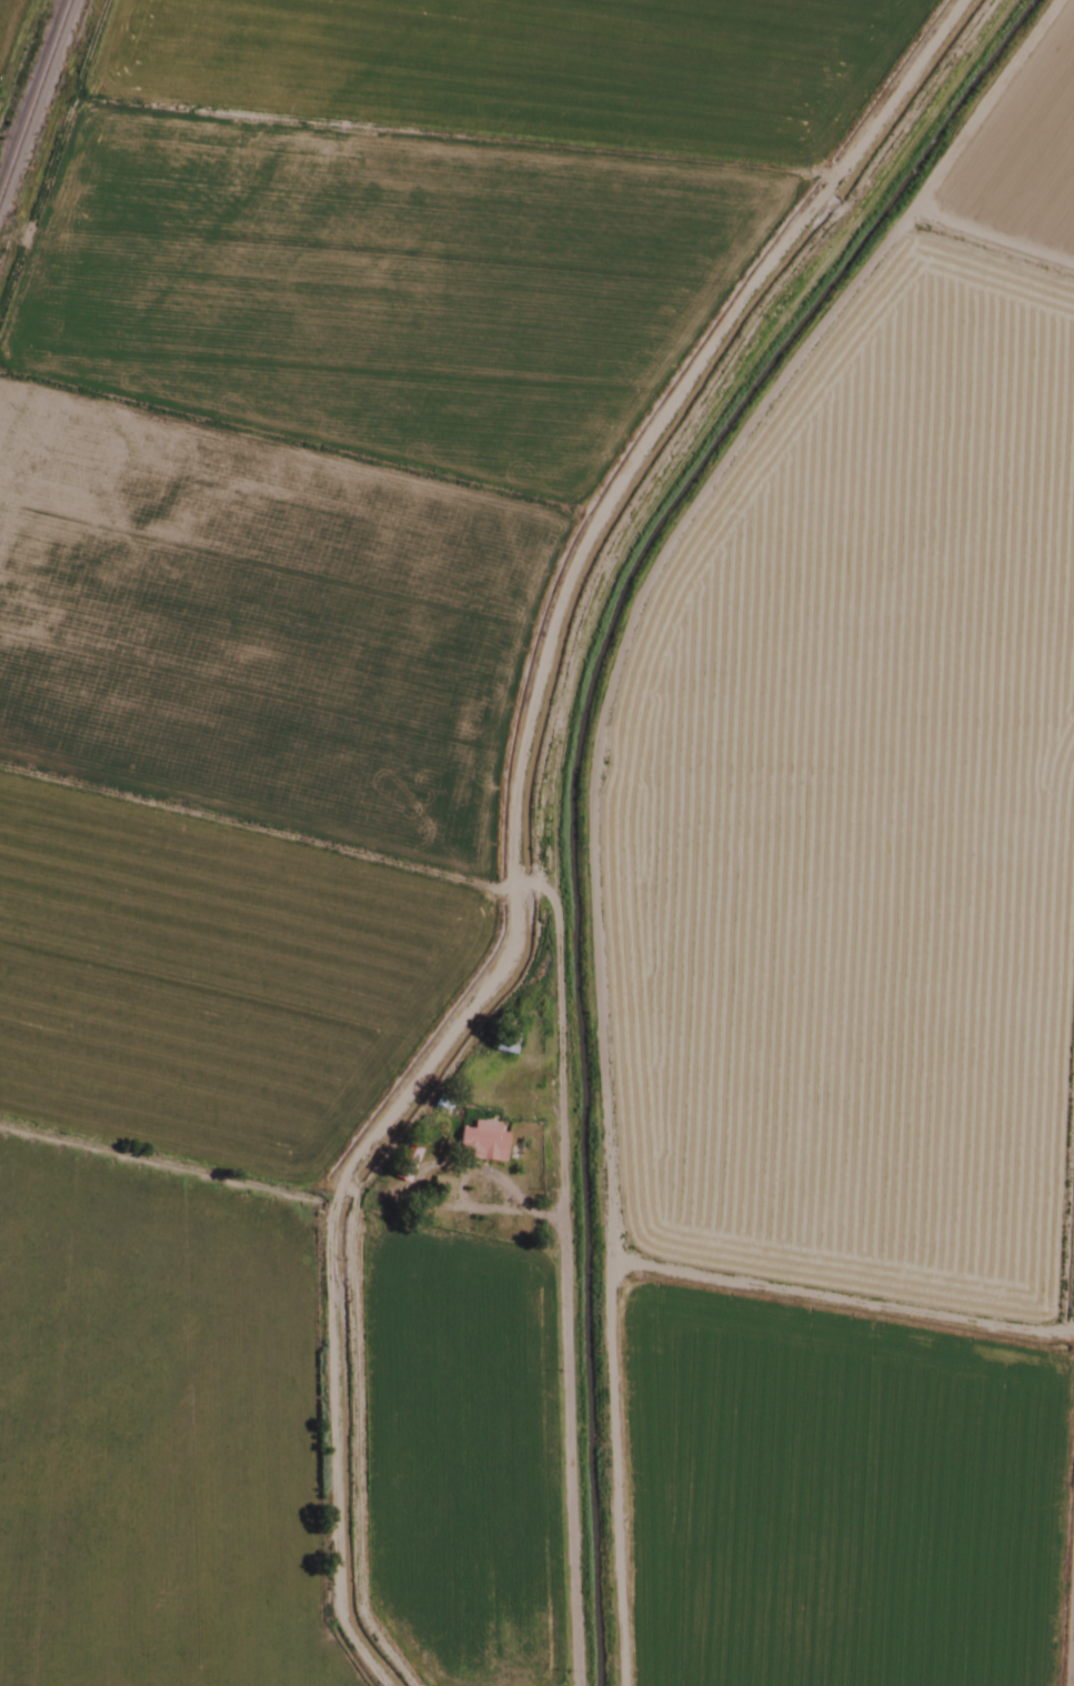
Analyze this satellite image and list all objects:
railway: (33, 93)
building: (501, 1042)
building: (480, 1143)
building: (402, 1164)
building: (439, 1187)
road: (535, 1221)
road: (554, 1271)
road: (1063, 1492)

